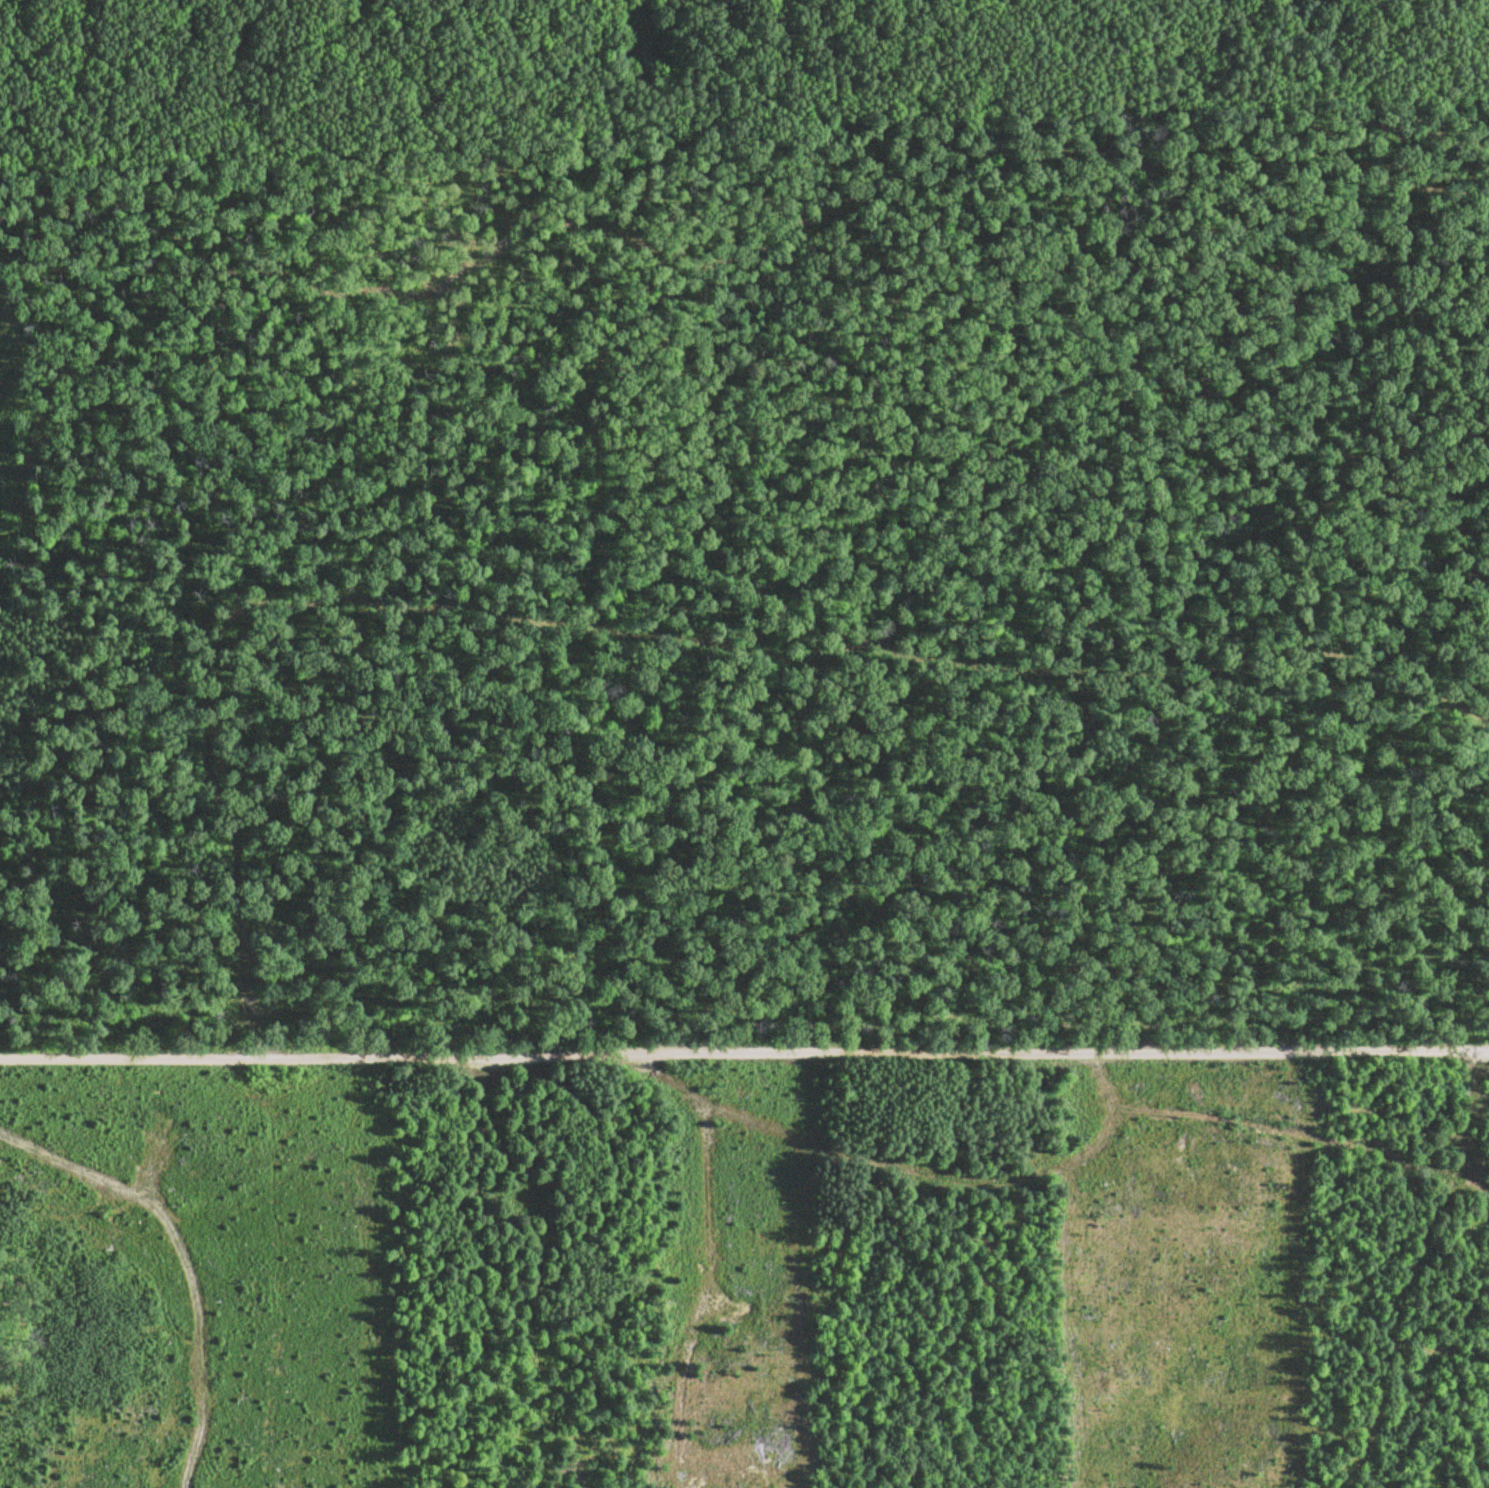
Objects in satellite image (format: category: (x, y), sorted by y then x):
road: (744, 1055)

